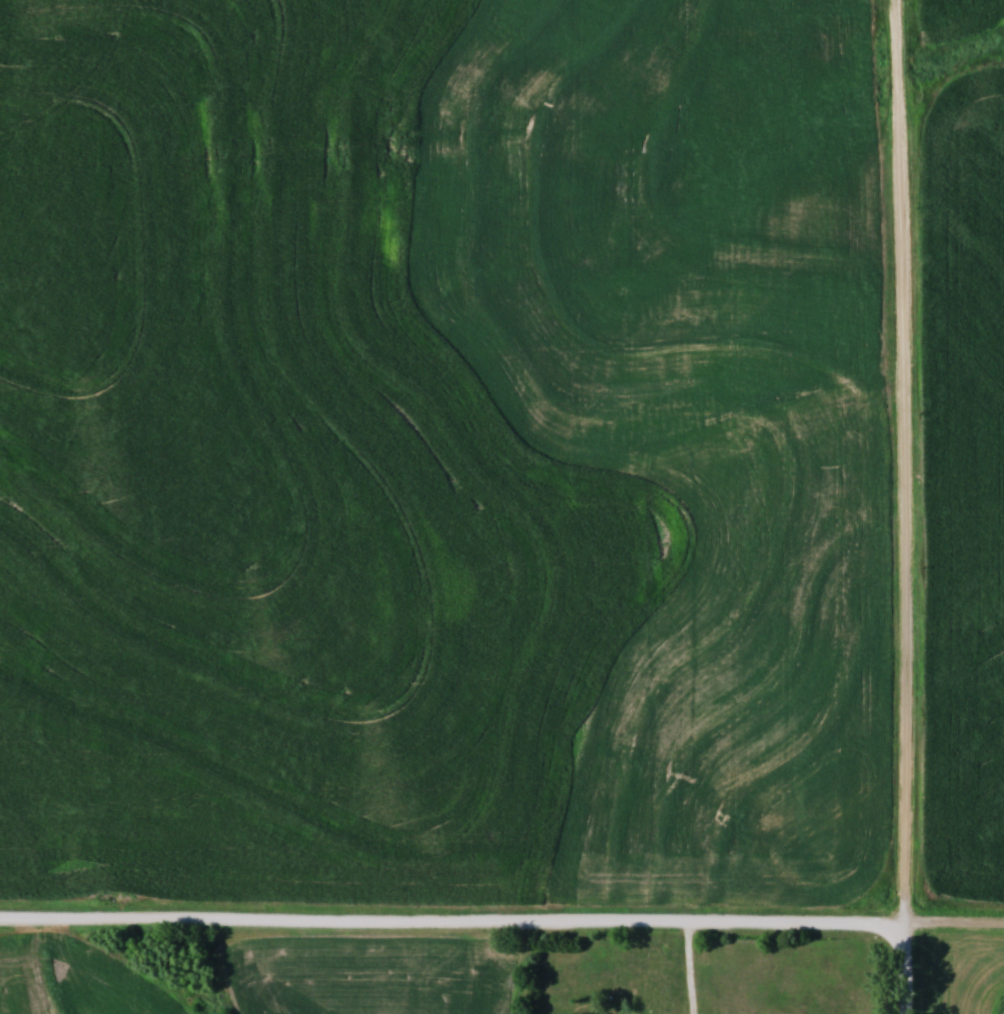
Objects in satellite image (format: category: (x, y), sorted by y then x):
road: (907, 507)
road: (502, 920)
road: (692, 967)

